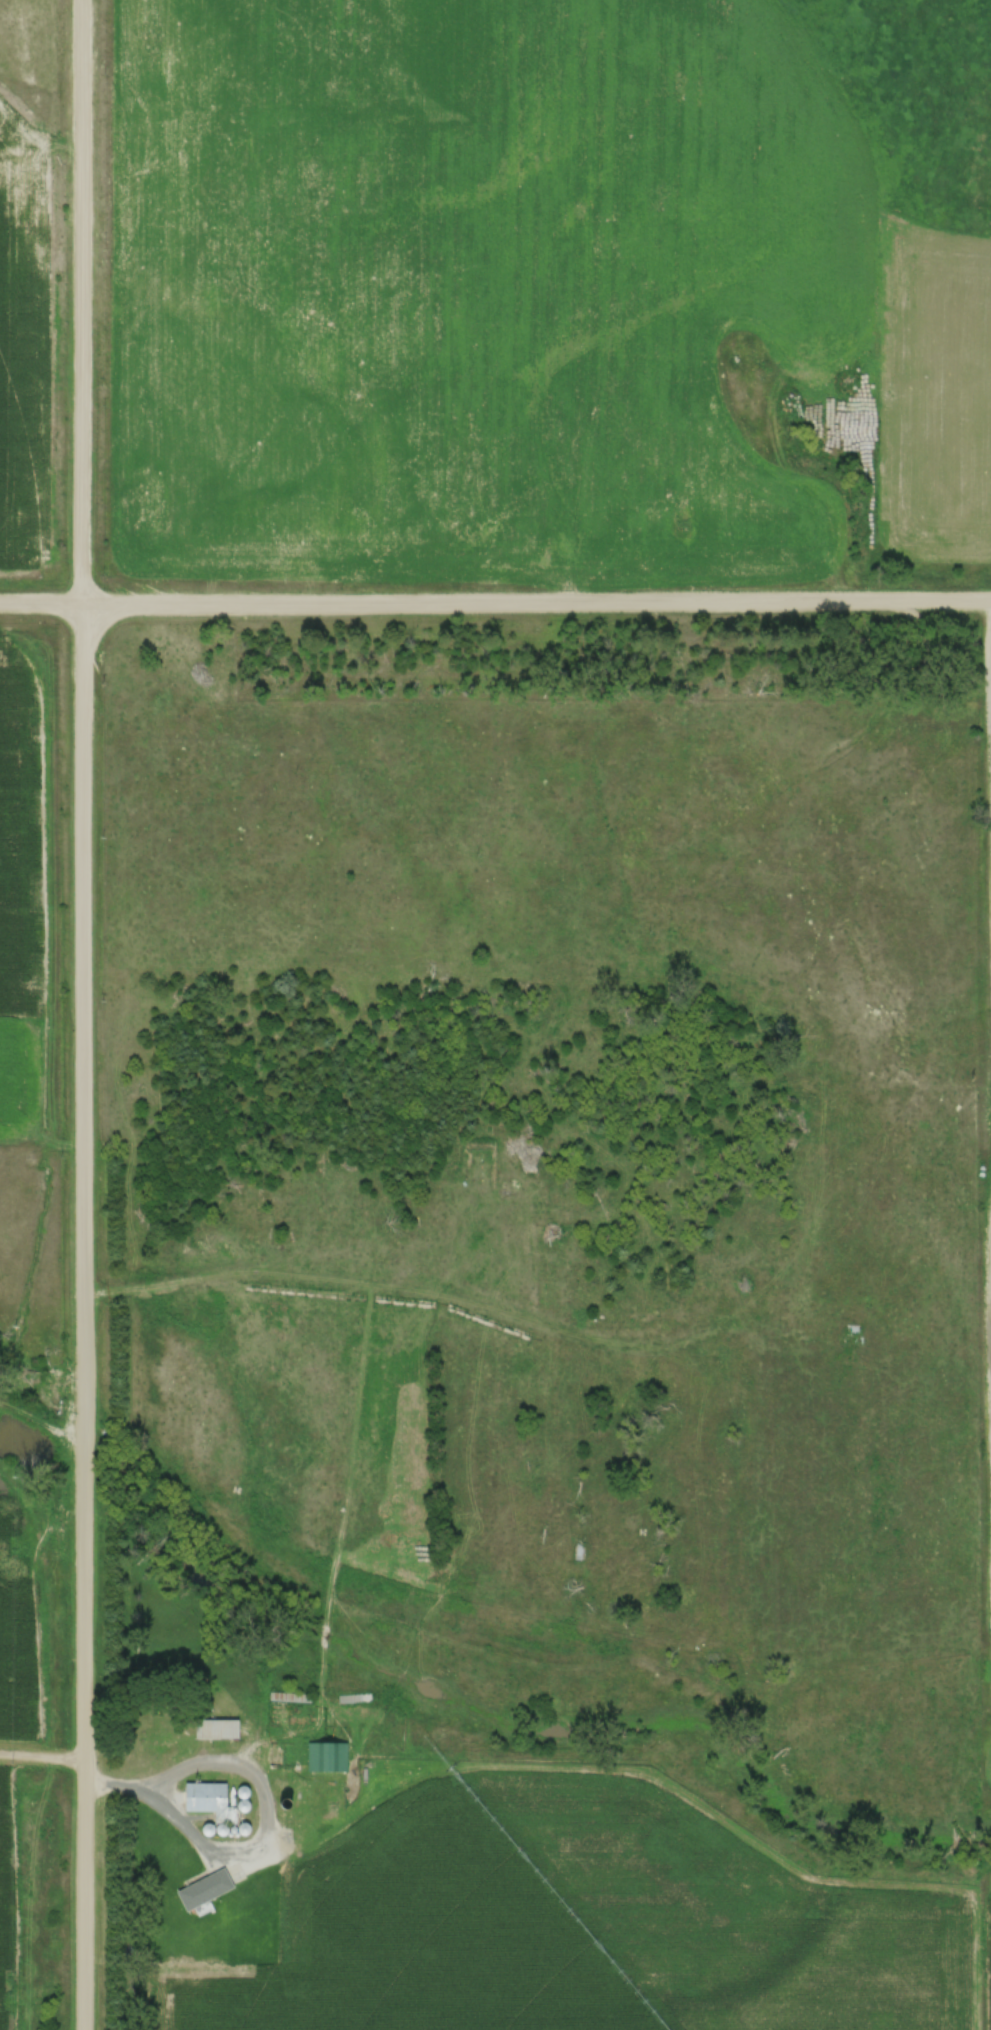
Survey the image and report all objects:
road: (495, 602)
road: (85, 1014)
building: (986, 1670)
building: (214, 1727)
building: (325, 1755)
road: (42, 1757)
road: (249, 1774)
road: (118, 1787)
building: (202, 1888)
crop: (990, 1954)

